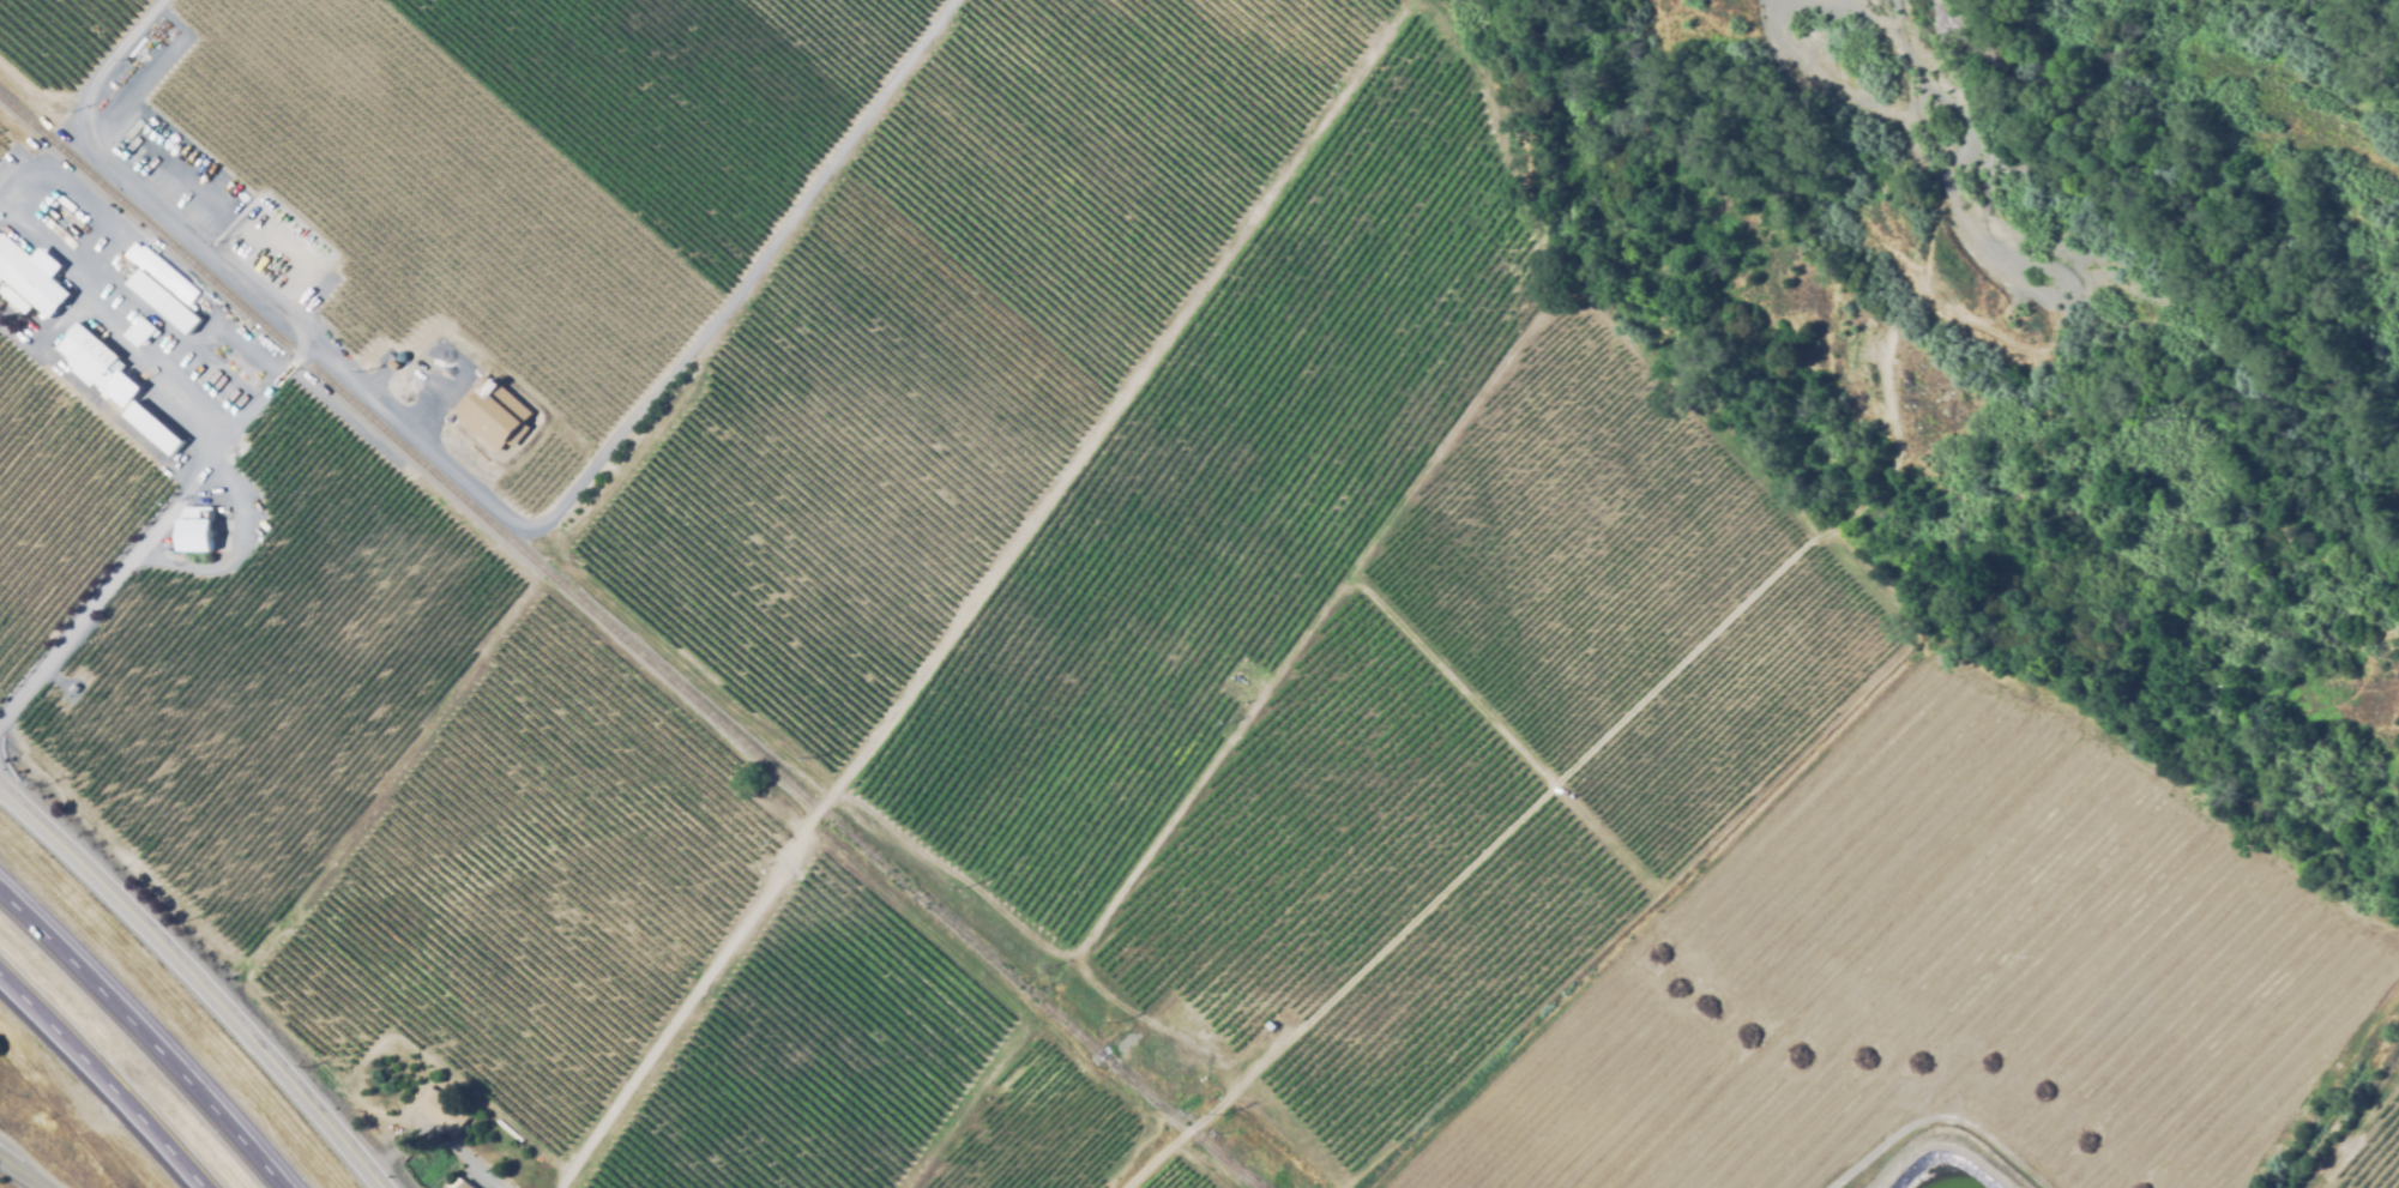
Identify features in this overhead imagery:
road: (38, 222)
road: (97, 271)
building: (30, 278)
building: (13, 298)
building: (164, 301)
building: (141, 328)
road: (301, 350)
building: (89, 352)
building: (152, 428)
building: (195, 526)
railway: (626, 640)
building: (73, 687)
road: (197, 981)
road: (147, 1033)
road: (103, 1079)
building: (441, 1110)
road: (436, 1132)
railway: (1231, 1165)
road: (22, 1171)
building: (458, 1183)

